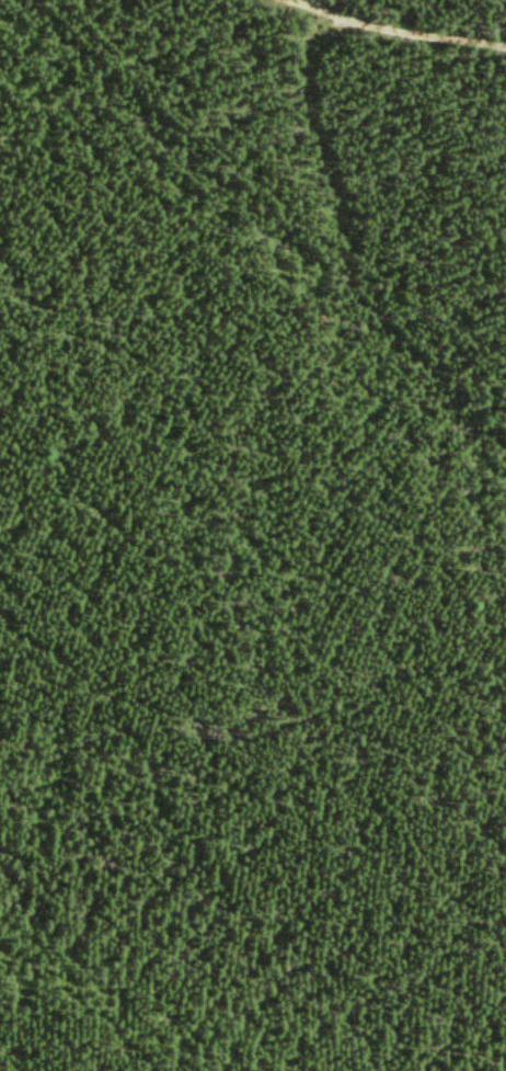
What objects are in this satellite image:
road: (393, 32)

